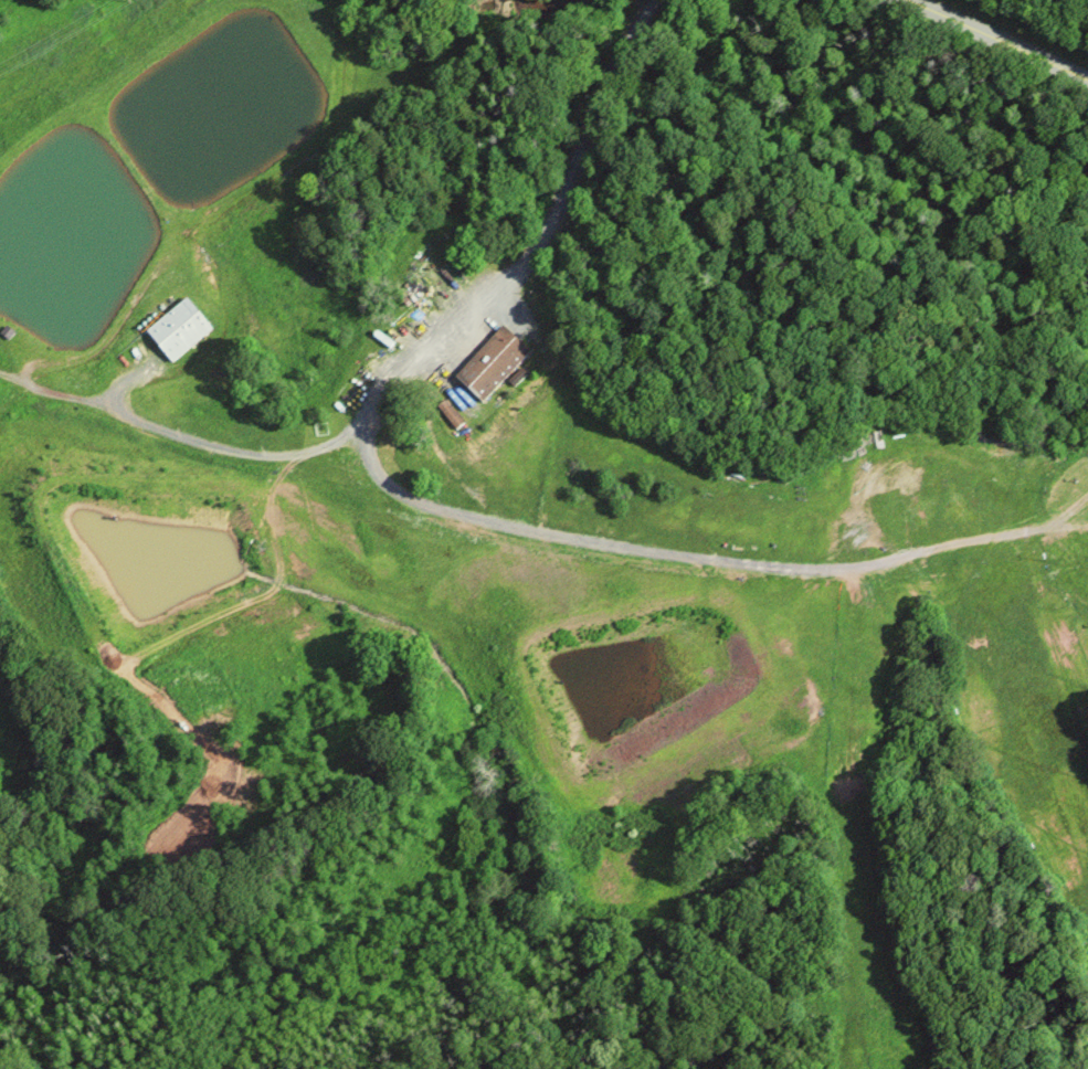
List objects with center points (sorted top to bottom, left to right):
road: (997, 40)
road: (539, 240)
building: (177, 328)
building: (490, 361)
road: (178, 434)
road: (679, 550)
building: (1033, 555)
ski resort: (820, 687)

